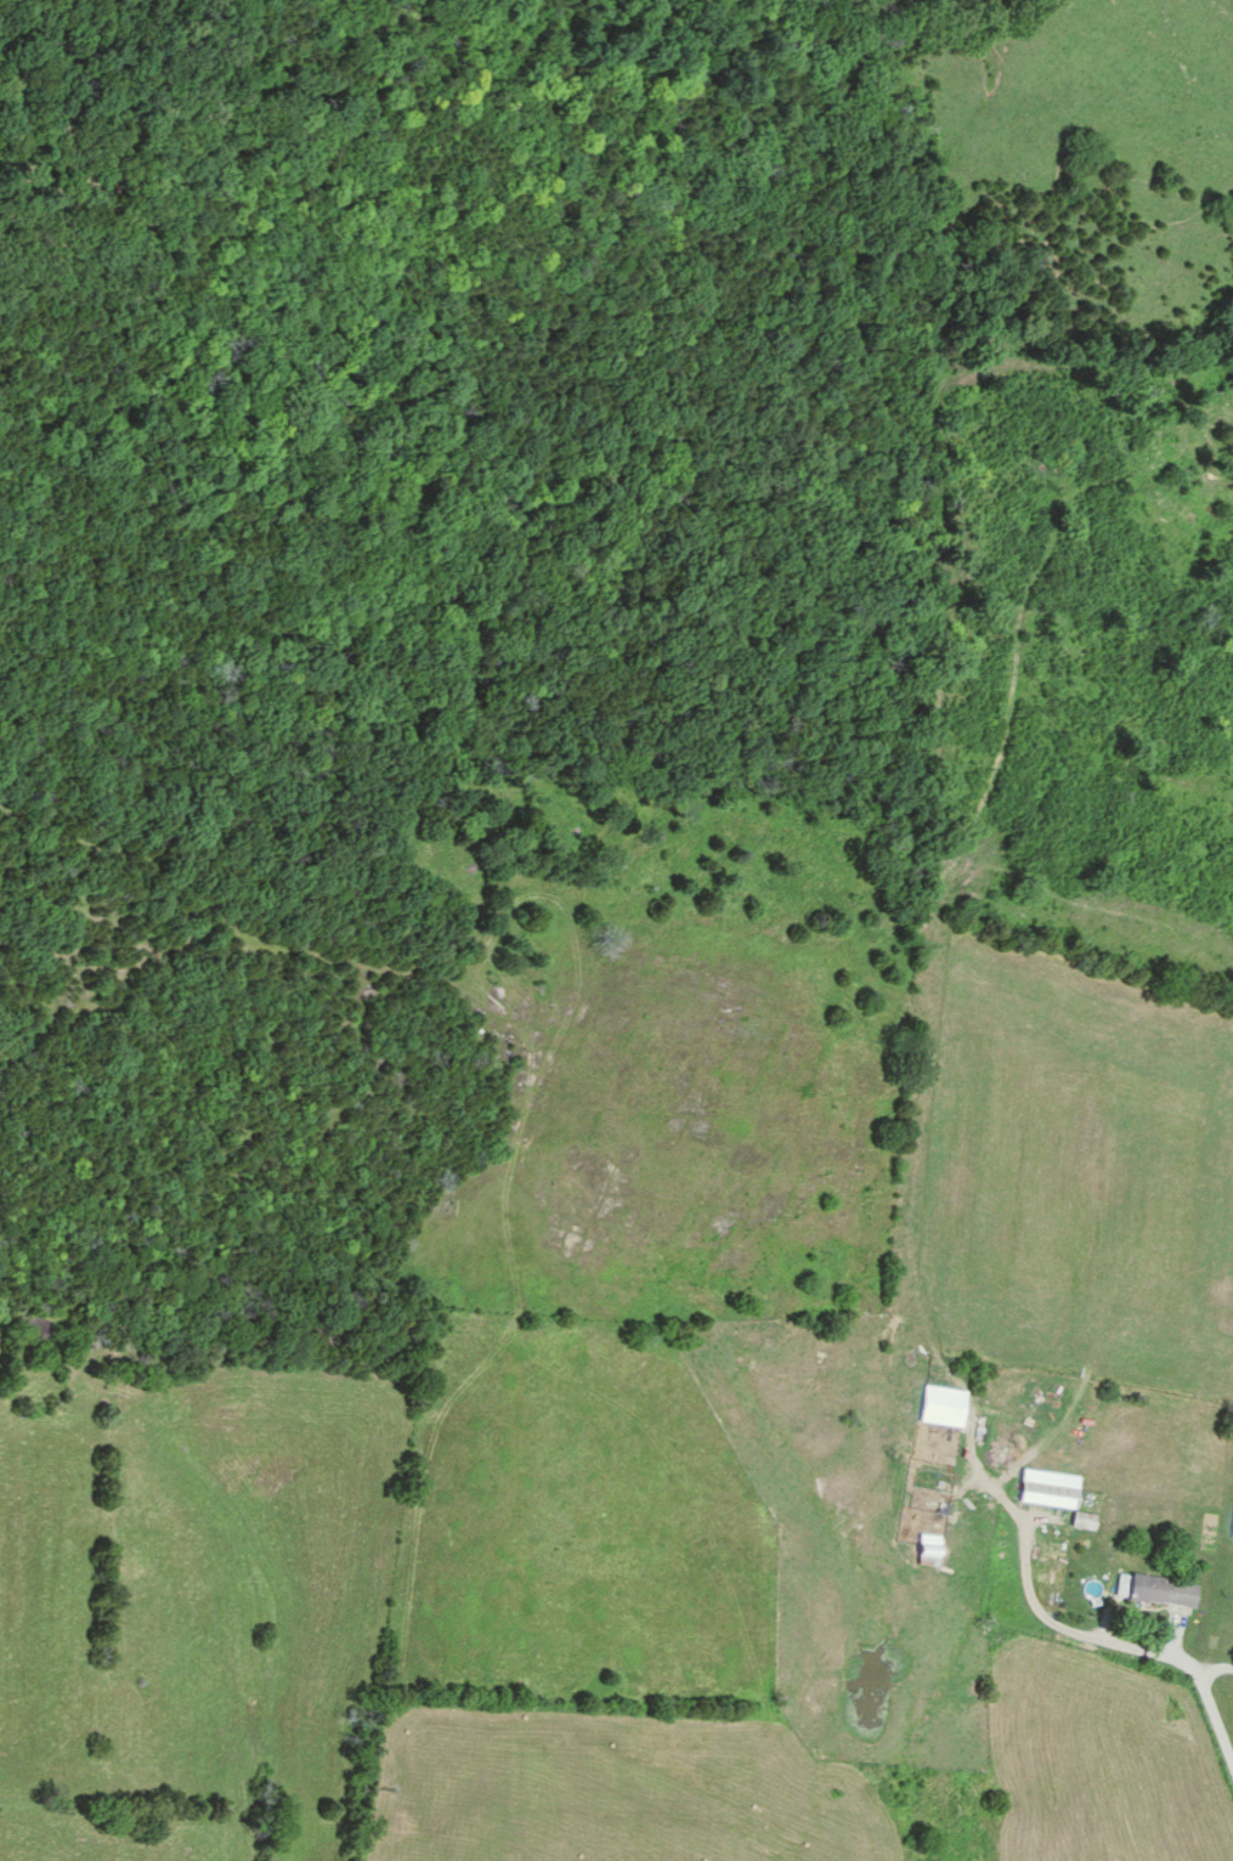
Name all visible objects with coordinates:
building: (945, 1407)
building: (1050, 1495)
building: (1232, 1526)
building: (929, 1556)
building: (1156, 1591)
road: (1096, 1639)
road: (1214, 1670)

